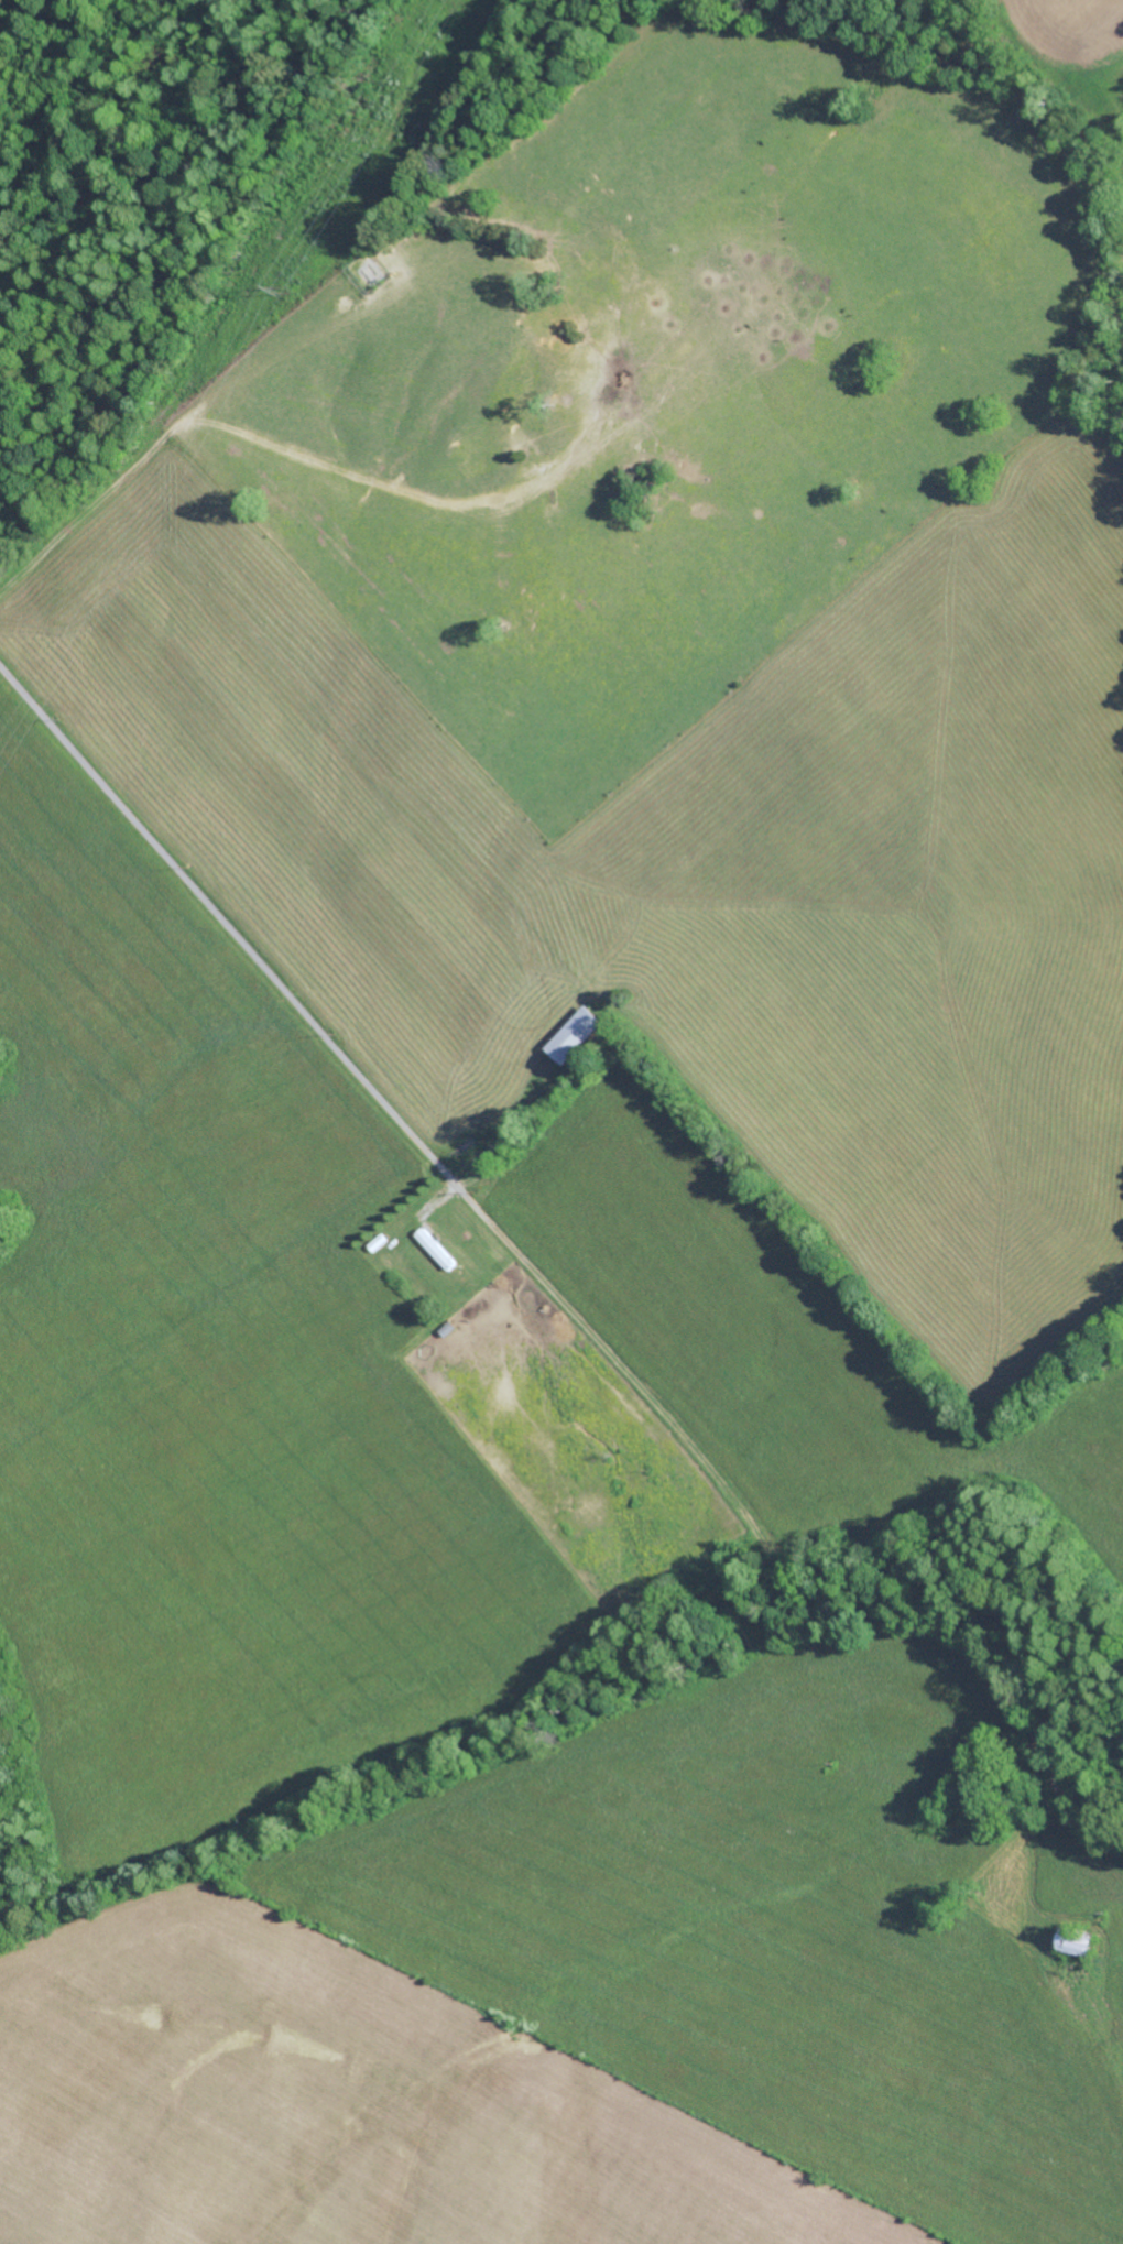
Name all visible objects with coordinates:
power tower: (288, 290)
road: (236, 939)
building: (569, 1034)

